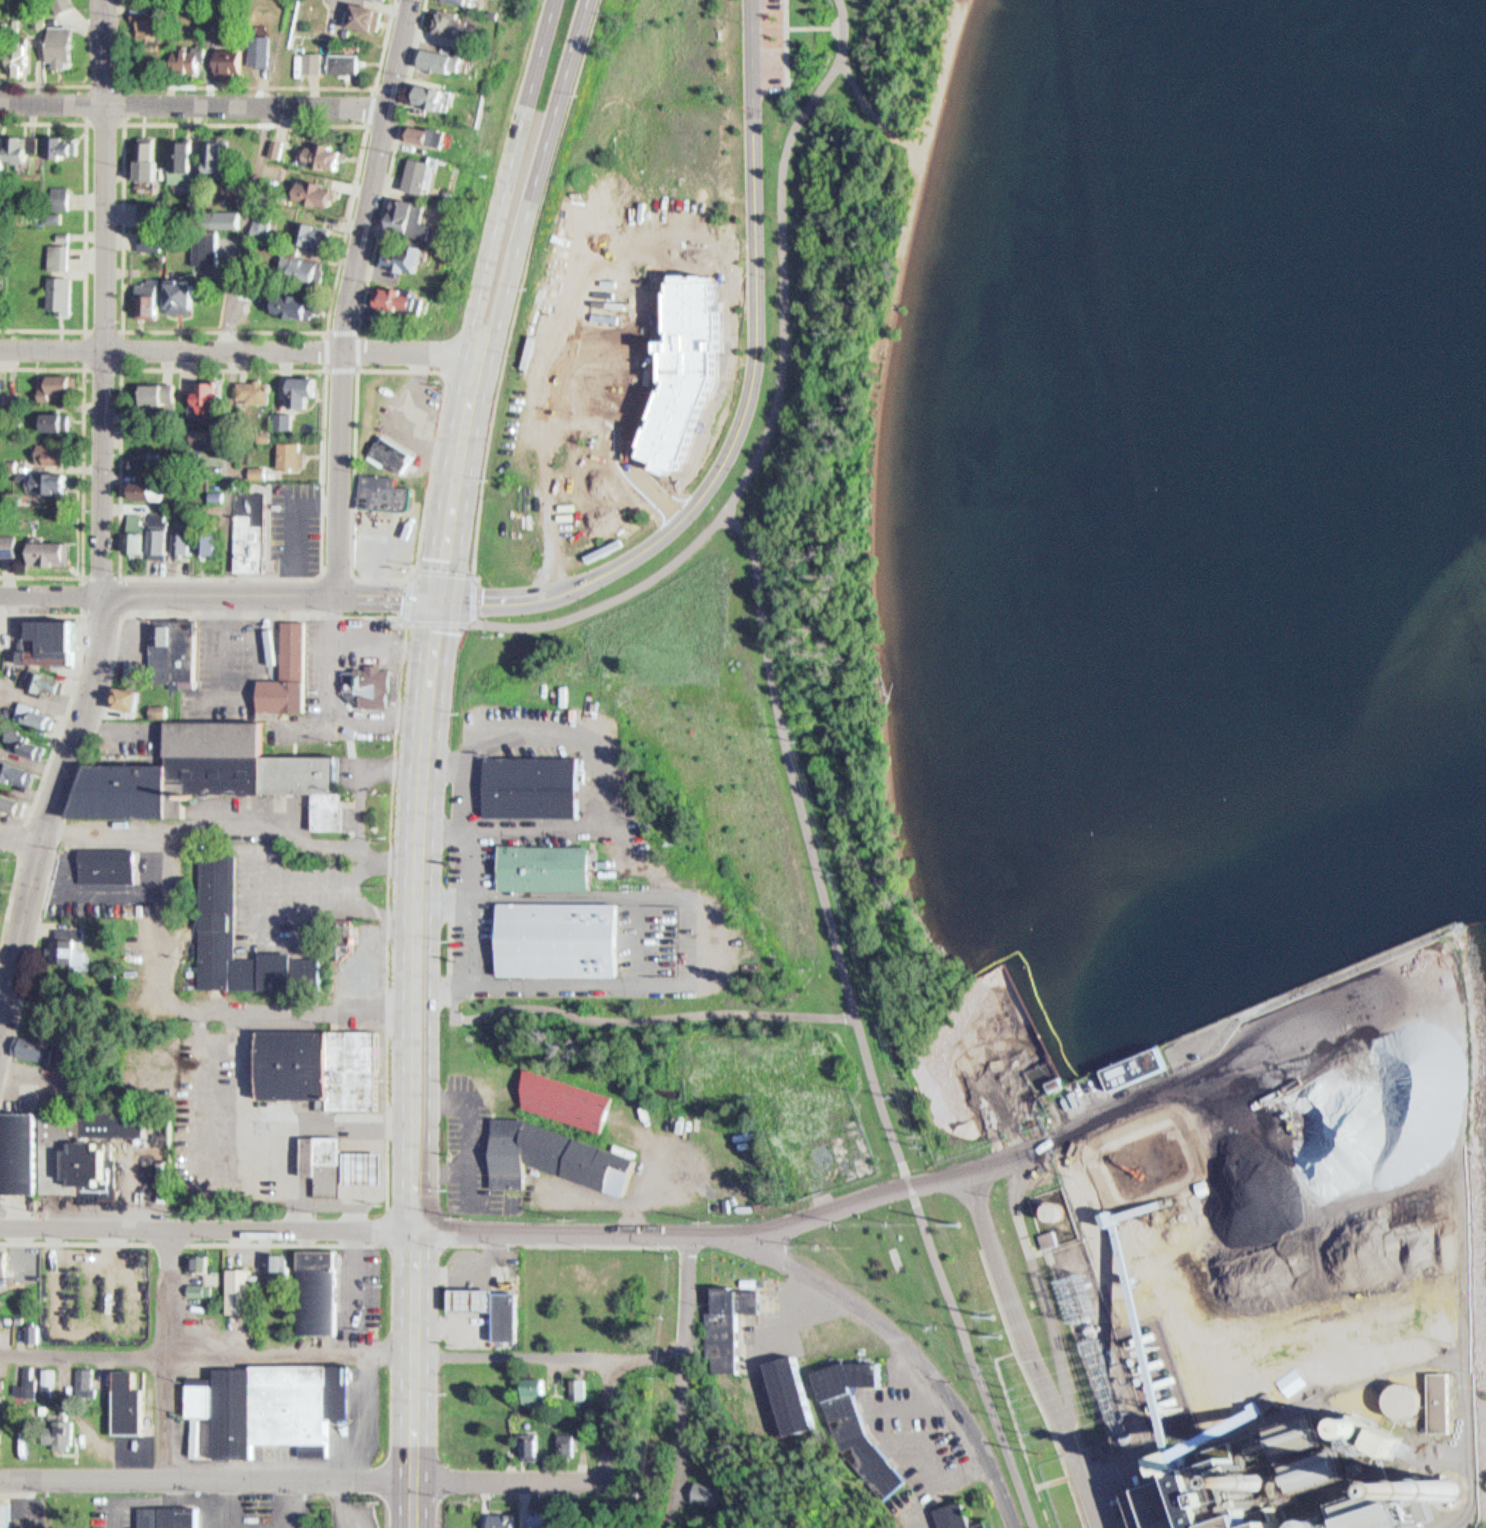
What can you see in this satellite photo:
building: (381, 0)
building: (386, 0)
building: (466, 1)
building: (147, 17)
building: (369, 17)
building: (455, 24)
road: (768, 27)
road: (814, 28)
parking lot: (770, 44)
road: (786, 45)
building: (63, 46)
building: (262, 50)
building: (1, 52)
building: (186, 60)
building: (230, 60)
building: (151, 62)
building: (314, 62)
building: (344, 62)
building: (447, 62)
road: (44, 83)
road: (529, 85)
road: (295, 86)
road: (562, 88)
road: (376, 89)
building: (439, 98)
road: (852, 98)
road: (194, 104)
road: (88, 123)
road: (350, 123)
building: (430, 136)
building: (62, 144)
building: (278, 146)
building: (23, 147)
building: (2, 153)
building: (325, 154)
building: (220, 156)
building: (152, 160)
building: (186, 161)
road: (392, 164)
building: (423, 174)
building: (321, 191)
building: (58, 203)
building: (153, 211)
building: (406, 212)
building: (264, 223)
road: (86, 224)
building: (212, 233)
building: (64, 234)
building: (315, 234)
building: (152, 239)
road: (783, 255)
building: (407, 256)
building: (60, 257)
building: (302, 266)
road: (521, 283)
building: (62, 293)
road: (348, 293)
building: (182, 294)
building: (153, 296)
road: (104, 297)
building: (398, 297)
building: (292, 298)
building: (0, 299)
road: (240, 349)
road: (121, 368)
road: (327, 369)
building: (678, 369)
road: (729, 371)
building: (1, 380)
road: (474, 382)
building: (57, 384)
building: (306, 388)
building: (261, 391)
building: (159, 393)
building: (13, 396)
building: (214, 396)
road: (748, 398)
building: (58, 420)
building: (286, 420)
building: (3, 422)
road: (612, 424)
building: (136, 429)
building: (268, 435)
building: (204, 436)
building: (55, 450)
building: (392, 453)
building: (295, 454)
building: (144, 462)
building: (4, 464)
road: (83, 471)
building: (261, 471)
building: (53, 480)
building: (150, 486)
building: (386, 492)
building: (219, 494)
building: (254, 525)
building: (139, 531)
building: (162, 539)
building: (8, 540)
building: (188, 540)
building: (214, 540)
building: (54, 550)
road: (417, 564)
road: (420, 572)
road: (321, 574)
road: (339, 575)
road: (50, 594)
road: (271, 594)
traffic signals: (440, 595)
road: (614, 599)
road: (121, 613)
road: (83, 614)
road: (302, 615)
road: (408, 620)
road: (466, 621)
building: (54, 635)
building: (5, 636)
building: (176, 654)
building: (138, 670)
building: (291, 672)
building: (48, 680)
road: (77, 682)
building: (371, 685)
building: (129, 698)
building: (160, 710)
building: (36, 712)
building: (29, 742)
road: (453, 763)
building: (250, 768)
building: (18, 770)
road: (363, 785)
building: (538, 785)
building: (125, 791)
building: (13, 799)
road: (49, 813)
road: (602, 816)
road: (208, 822)
road: (21, 836)
road: (22, 839)
road: (480, 860)
building: (112, 865)
building: (547, 867)
road: (121, 893)
building: (221, 900)
road: (448, 901)
road: (9, 904)
road: (348, 904)
building: (560, 939)
road: (451, 941)
building: (76, 955)
building: (379, 955)
building: (379, 976)
road: (570, 989)
road: (434, 993)
road: (12, 994)
road: (3, 1006)
road: (261, 1009)
road: (452, 1009)
road: (654, 1022)
road: (858, 1024)
road: (417, 1038)
building: (37, 1048)
building: (77, 1052)
building: (321, 1065)
building: (1129, 1075)
road: (214, 1092)
building: (567, 1099)
road: (315, 1118)
building: (108, 1149)
building: (23, 1152)
building: (559, 1155)
building: (327, 1164)
building: (370, 1165)
road: (292, 1174)
building: (1138, 1179)
road: (385, 1225)
road: (207, 1227)
road: (738, 1228)
building: (1052, 1238)
road: (76, 1241)
road: (171, 1242)
road: (286, 1242)
building: (6, 1260)
building: (280, 1265)
building: (204, 1268)
building: (198, 1289)
building: (241, 1290)
building: (322, 1291)
building: (0, 1297)
building: (0, 1300)
building: (497, 1309)
building: (728, 1324)
road: (687, 1327)
building: (37, 1333)
road: (168, 1352)
road: (910, 1352)
road: (84, 1353)
road: (292, 1356)
road: (514, 1360)
building: (43, 1374)
building: (22, 1375)
building: (1, 1378)
building: (87, 1379)
building: (49, 1383)
building: (27, 1384)
building: (580, 1389)
building: (534, 1390)
building: (789, 1395)
building: (131, 1404)
building: (269, 1407)
building: (857, 1421)
building: (50, 1424)
building: (61, 1434)
building: (568, 1444)
building: (532, 1447)
road: (207, 1479)
road: (566, 1481)
building: (710, 1494)
building: (1208, 1503)
road: (415, 1505)
building: (8, 1514)
building: (173, 1516)
building: (955, 1516)
building: (506, 1520)
building: (542, 1520)
building: (1348, 1525)

